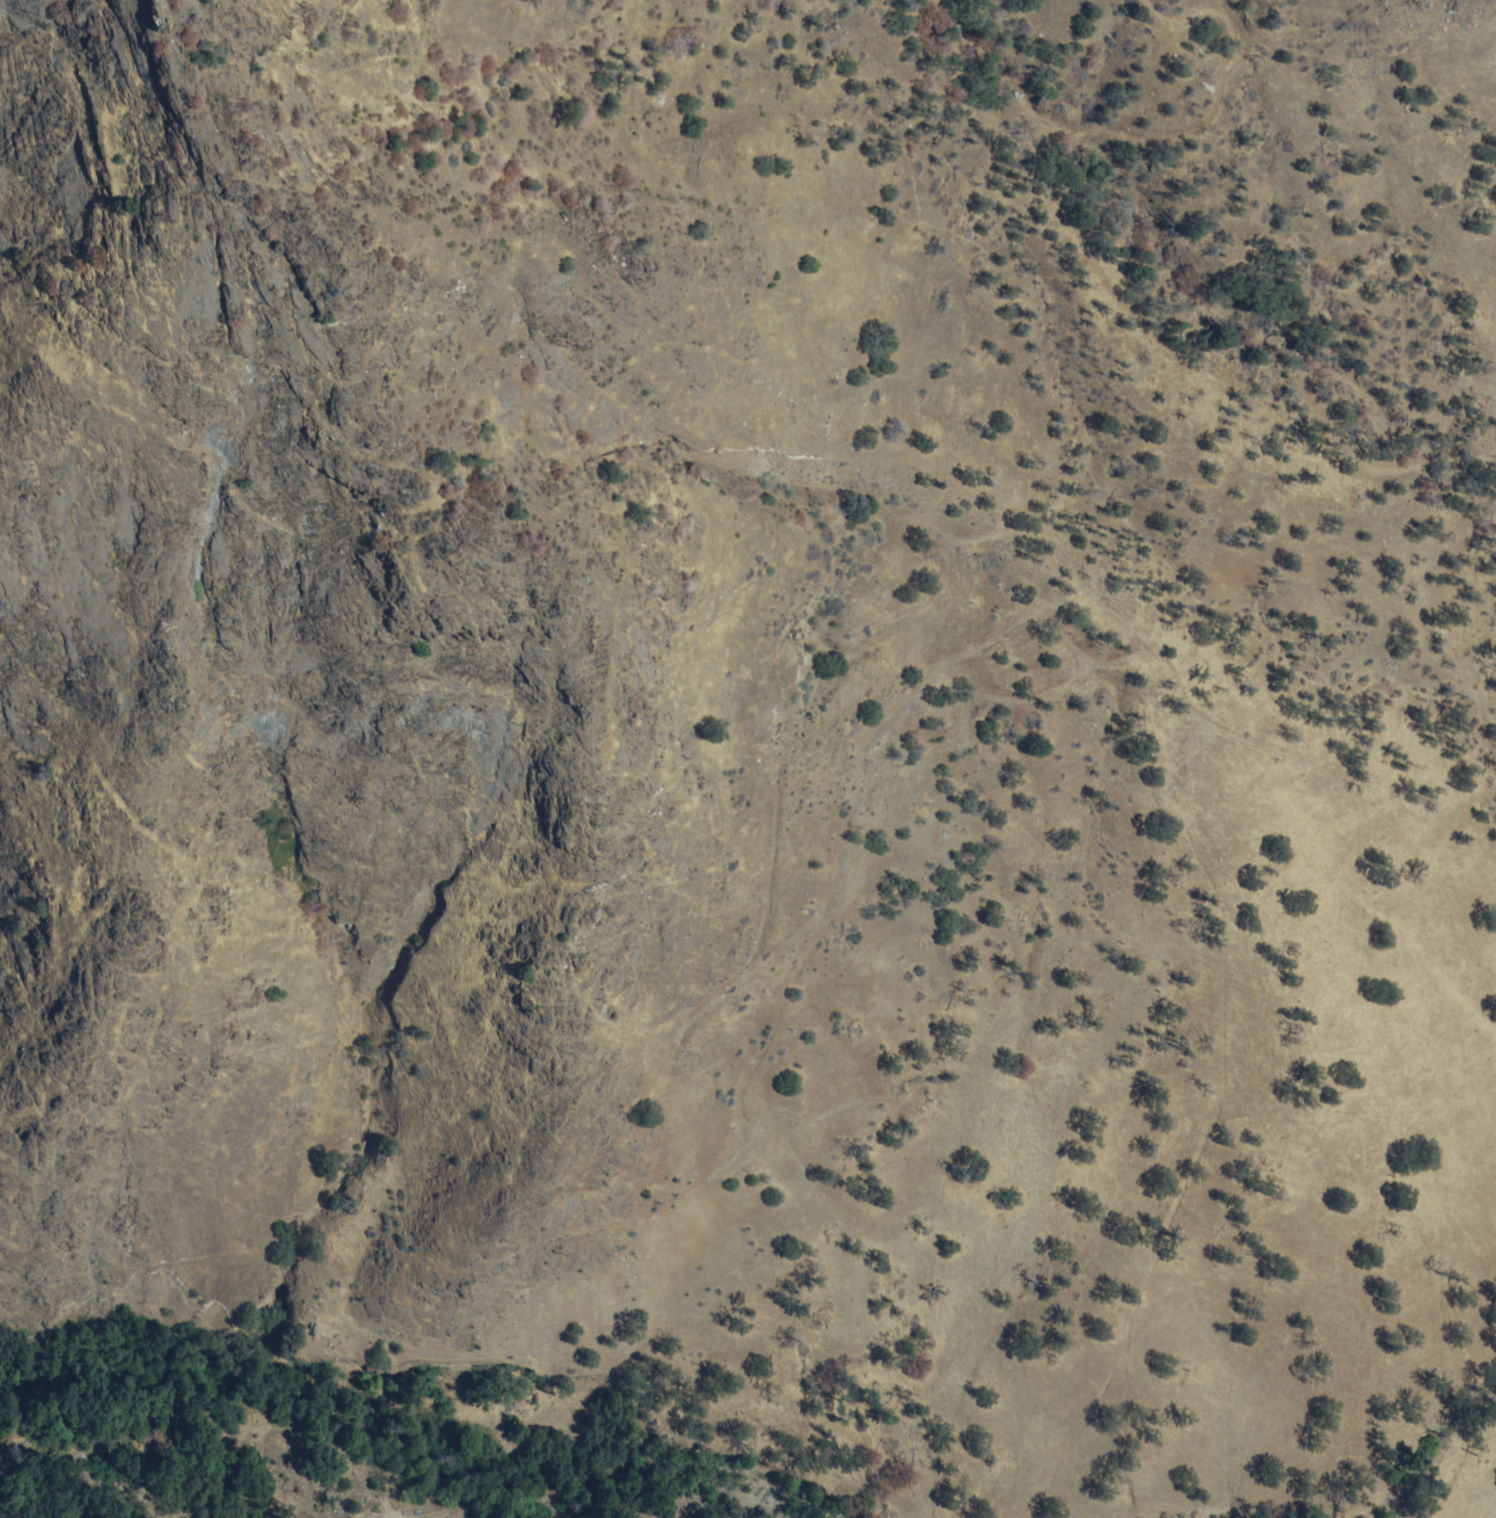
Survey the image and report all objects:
road: (1189, 605)
road: (1098, 1372)
river: (304, 1409)

